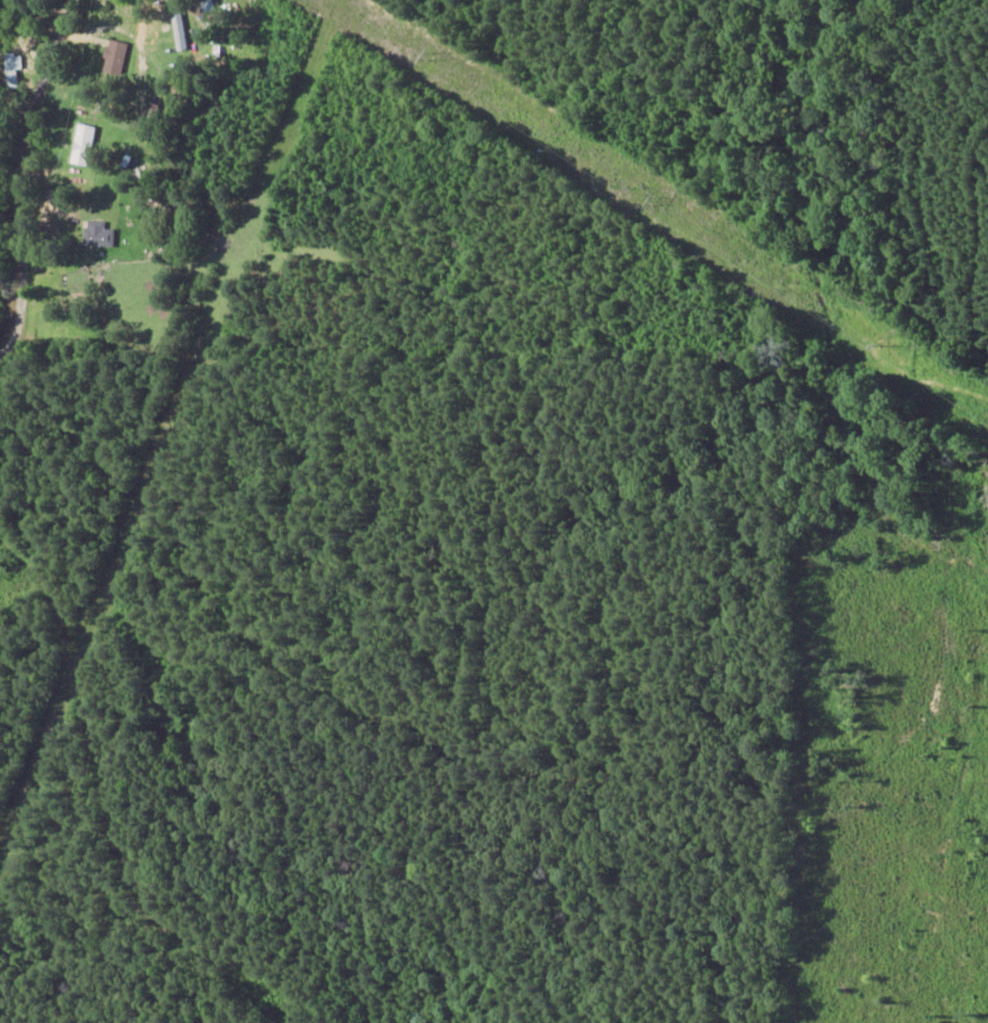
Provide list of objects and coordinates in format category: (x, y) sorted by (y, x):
building: (113, 54)
building: (81, 144)
road: (27, 179)
building: (97, 234)

